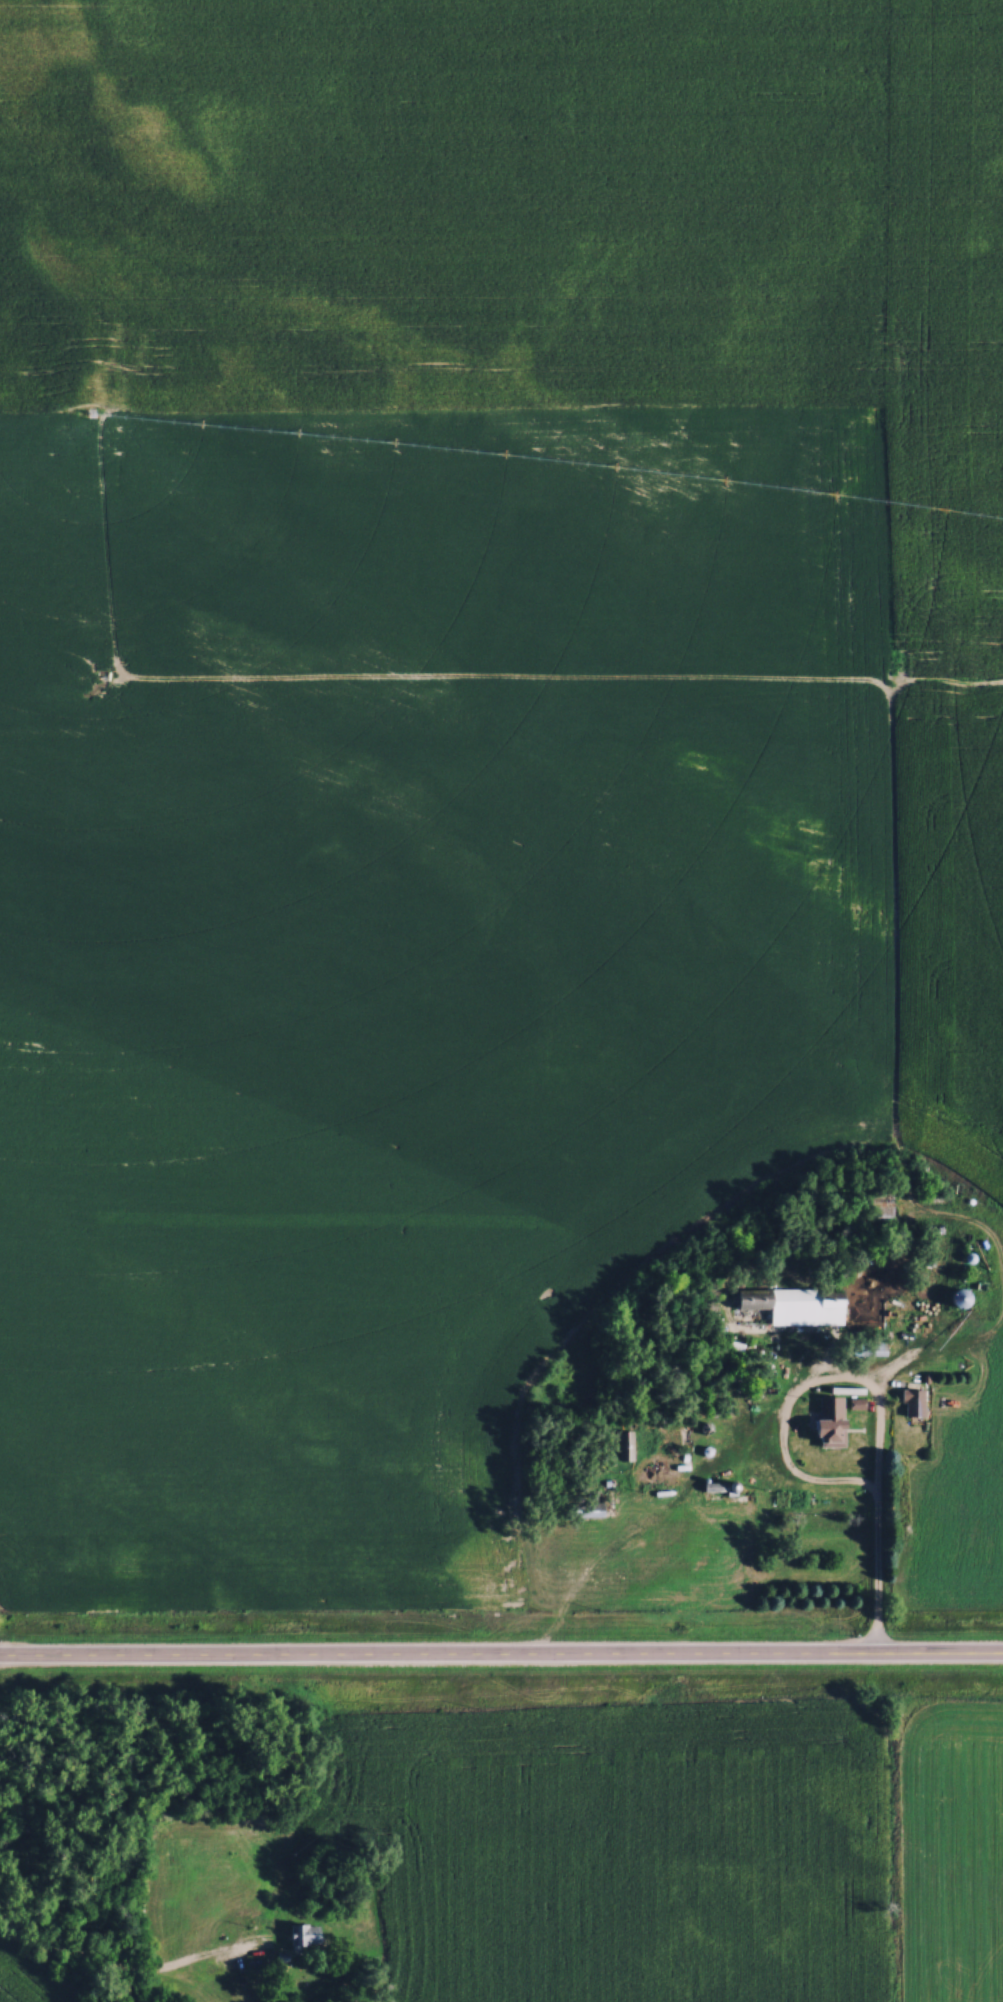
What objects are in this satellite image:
building: (790, 1305)
road: (807, 1389)
building: (911, 1402)
building: (826, 1432)
road: (877, 1581)
road: (501, 1659)
building: (301, 1934)
road: (104, 1962)

